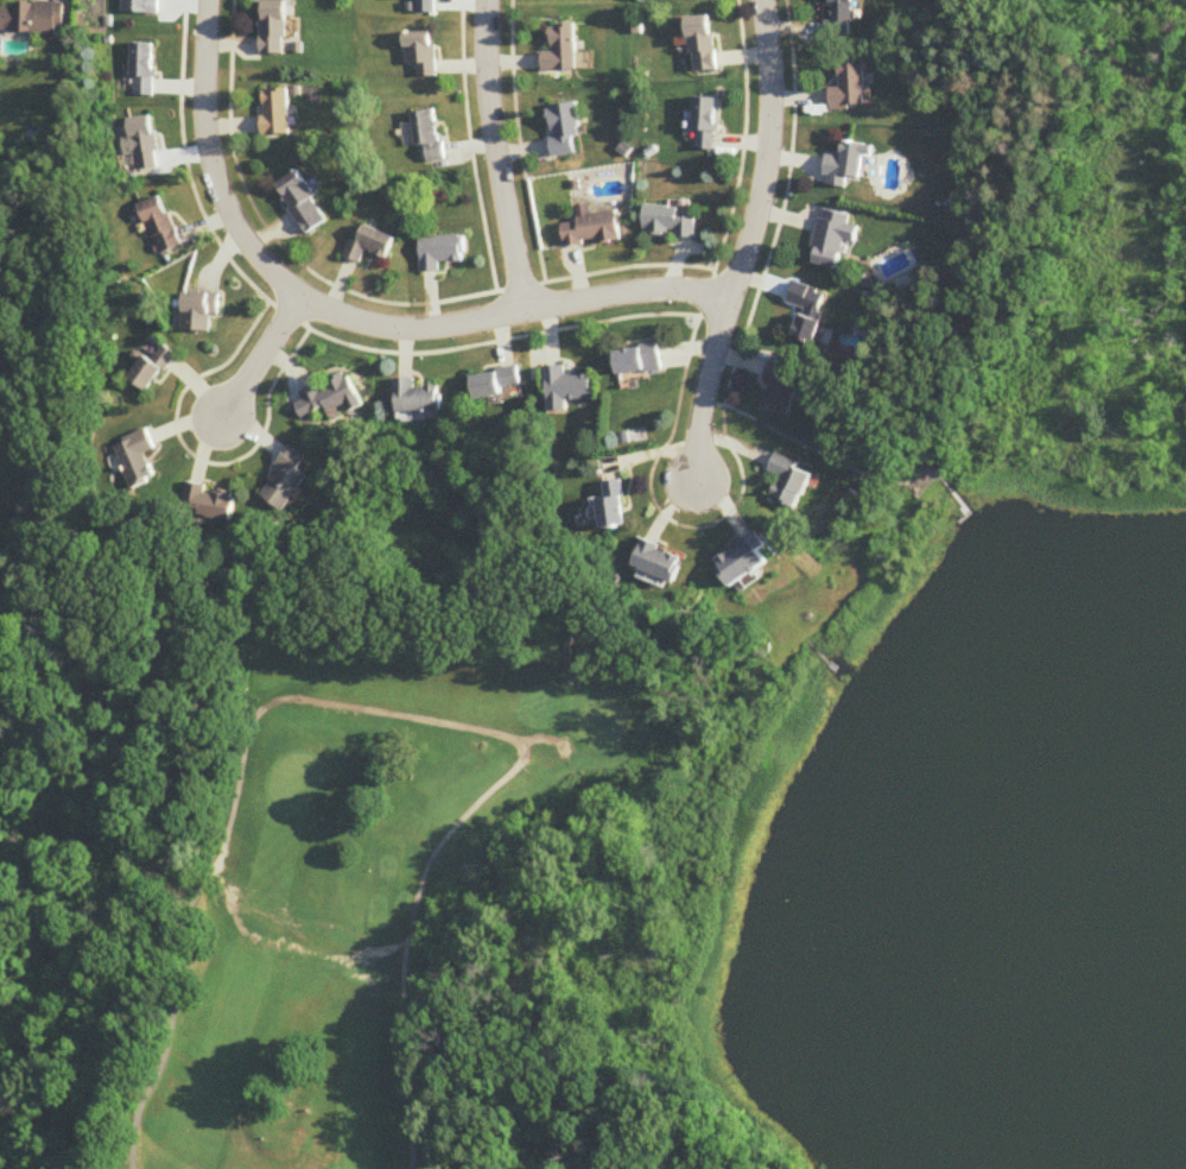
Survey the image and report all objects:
building: (142, 6)
building: (424, 6)
building: (33, 19)
building: (842, 20)
building: (277, 27)
building: (699, 44)
building: (562, 50)
building: (421, 55)
building: (144, 70)
building: (851, 88)
building: (278, 113)
building: (704, 125)
building: (565, 131)
building: (427, 134)
building: (141, 143)
road: (499, 156)
building: (848, 165)
road: (1034, 184)
building: (302, 204)
building: (668, 223)
building: (159, 227)
building: (594, 228)
building: (833, 240)
building: (370, 245)
road: (743, 245)
building: (443, 252)
building: (198, 314)
road: (351, 316)
building: (811, 317)
road: (261, 358)
building: (636, 361)
building: (151, 369)
building: (499, 385)
building: (785, 385)
building: (567, 388)
building: (330, 397)
building: (418, 399)
building: (138, 459)
building: (288, 482)
building: (791, 482)
building: (211, 504)
building: (611, 507)
building: (743, 562)
building: (660, 563)
park: (338, 867)

